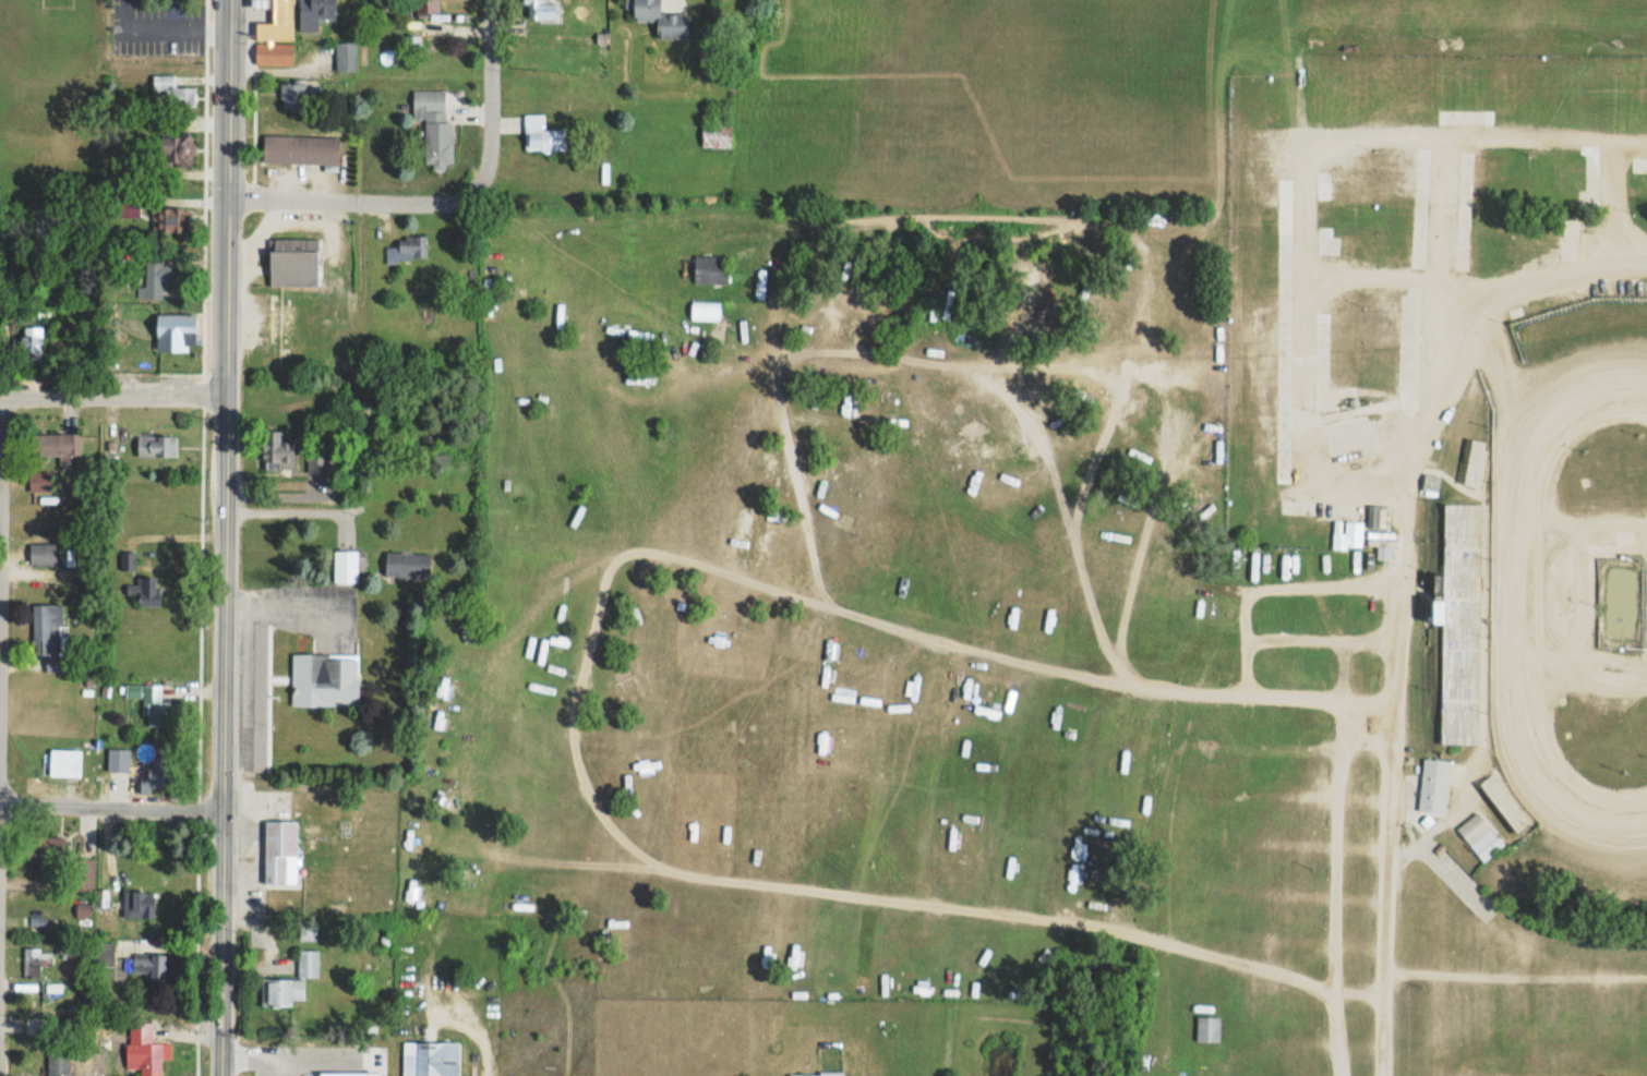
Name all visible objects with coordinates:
building: (260, 3)
building: (428, 7)
building: (323, 9)
building: (539, 9)
building: (662, 19)
building: (278, 22)
building: (411, 44)
building: (274, 55)
building: (346, 57)
road: (488, 90)
building: (173, 92)
building: (292, 95)
building: (434, 126)
building: (541, 135)
building: (716, 136)
building: (178, 148)
building: (300, 150)
road: (356, 202)
building: (177, 220)
building: (407, 249)
building: (293, 262)
building: (710, 269)
building: (159, 270)
building: (705, 310)
building: (282, 318)
building: (176, 333)
building: (36, 342)
road: (111, 394)
building: (57, 444)
building: (149, 446)
building: (279, 452)
building: (40, 481)
building: (1430, 484)
road: (297, 511)
building: (1376, 516)
building: (1347, 534)
road: (223, 537)
building: (44, 553)
building: (408, 565)
building: (345, 566)
building: (146, 590)
raceway: (1505, 607)
building: (48, 630)
building: (1173, 654)
building: (1459, 670)
building: (325, 679)
building: (155, 706)
road: (1360, 734)
building: (118, 759)
building: (64, 761)
building: (1434, 786)
road: (112, 806)
building: (1480, 836)
building: (46, 848)
building: (281, 853)
building: (84, 873)
building: (139, 903)
building: (105, 953)
building: (36, 959)
building: (145, 964)
building: (291, 981)
building: (35, 1025)
building: (1207, 1028)
building: (142, 1050)
road: (263, 1056)
building: (431, 1059)
building: (58, 1063)
building: (816, 1074)

